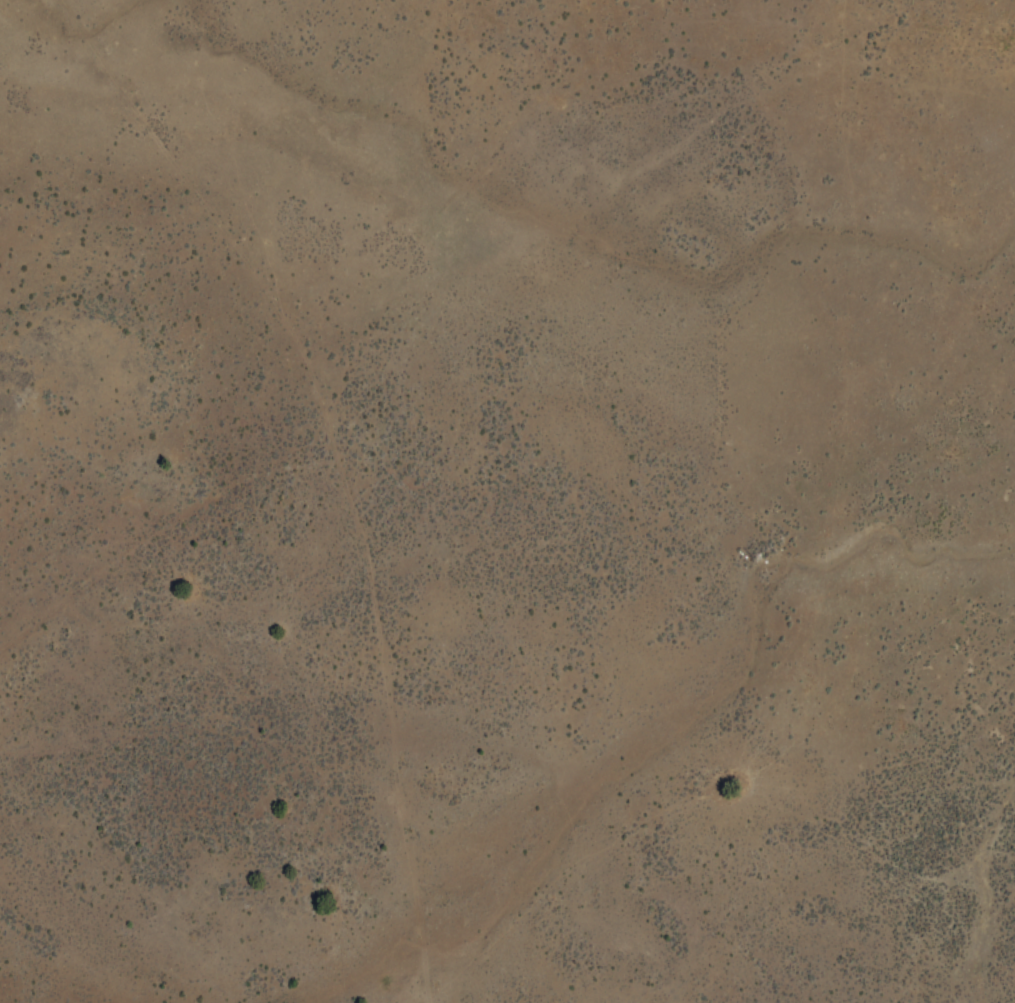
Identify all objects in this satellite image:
road: (334, 463)
road: (719, 997)

